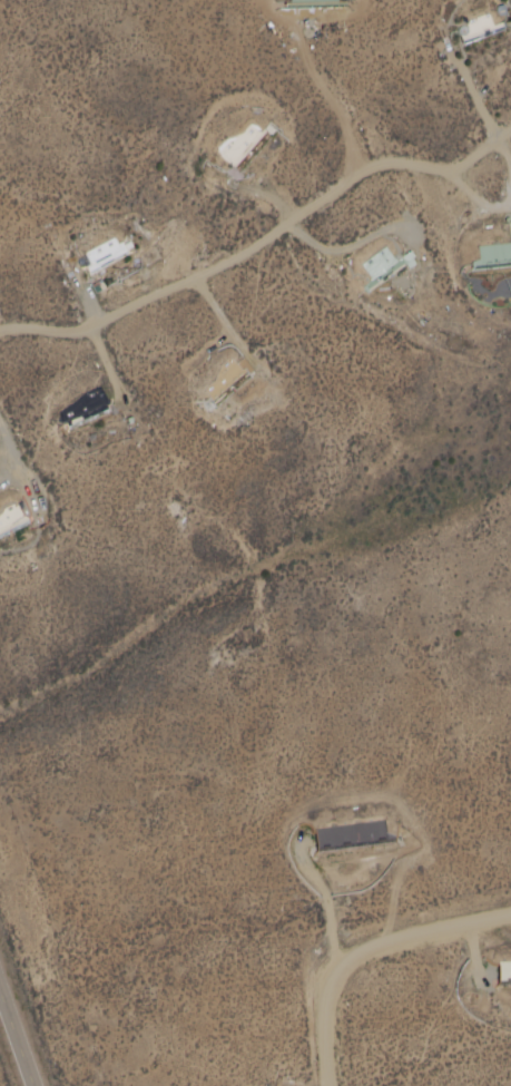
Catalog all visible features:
building: (314, 2)
building: (479, 20)
road: (474, 99)
building: (238, 147)
road: (505, 153)
road: (265, 195)
road: (473, 196)
road: (482, 213)
building: (510, 224)
road: (452, 227)
road: (264, 241)
road: (351, 247)
building: (490, 254)
building: (104, 255)
building: (379, 265)
building: (507, 285)
road: (87, 301)
road: (225, 324)
road: (105, 363)
building: (224, 381)
building: (85, 408)
road: (24, 476)
road: (11, 479)
road: (2, 482)
building: (10, 520)
building: (352, 833)
road: (363, 951)
building: (505, 969)
road: (18, 1033)

